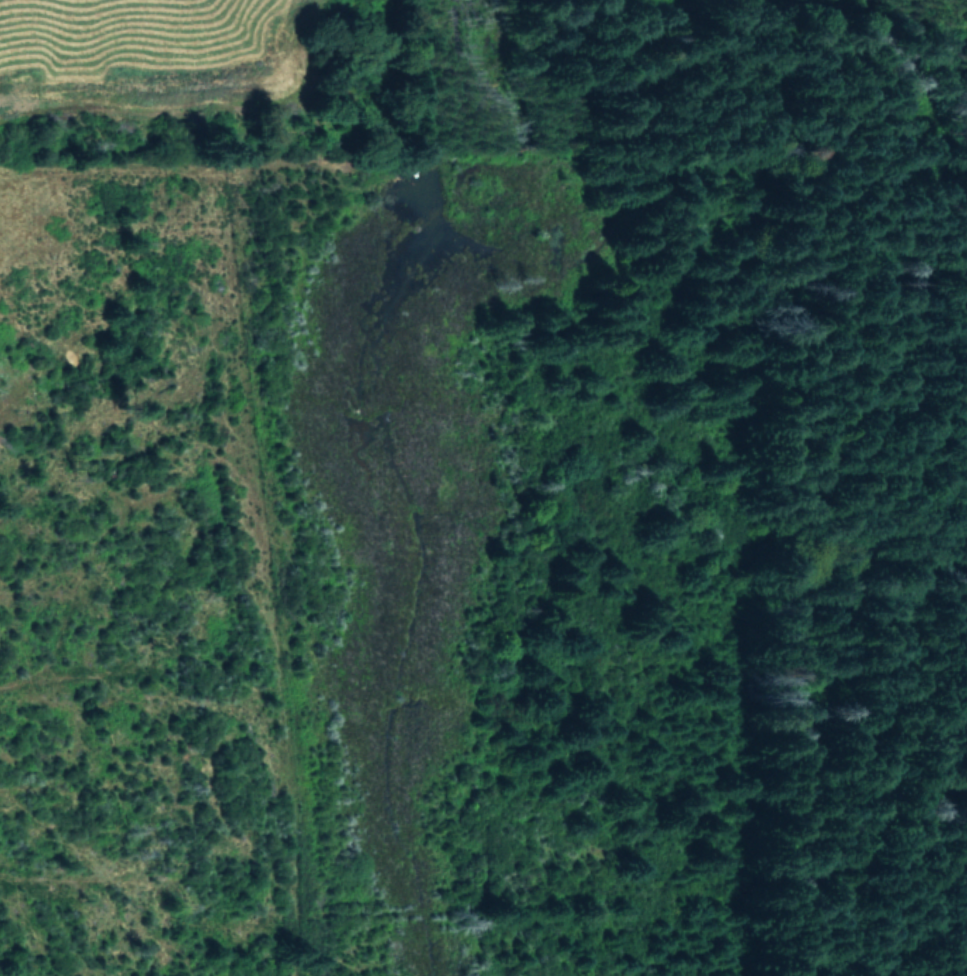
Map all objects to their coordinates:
crop: (174, 76)

